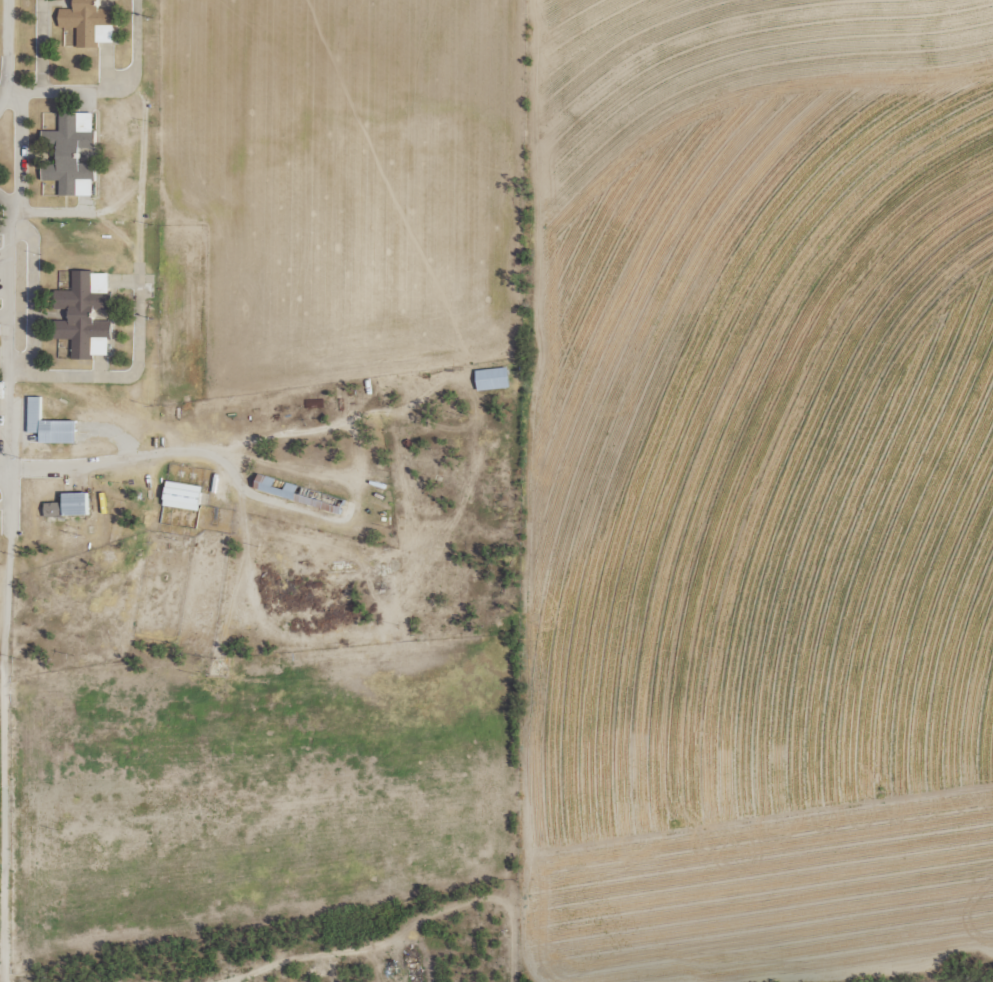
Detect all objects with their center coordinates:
building: (88, 22)
road: (12, 70)
building: (70, 154)
building: (83, 314)
building: (491, 378)
building: (48, 425)
building: (278, 488)
building: (67, 505)
road: (10, 592)
road: (400, 928)

